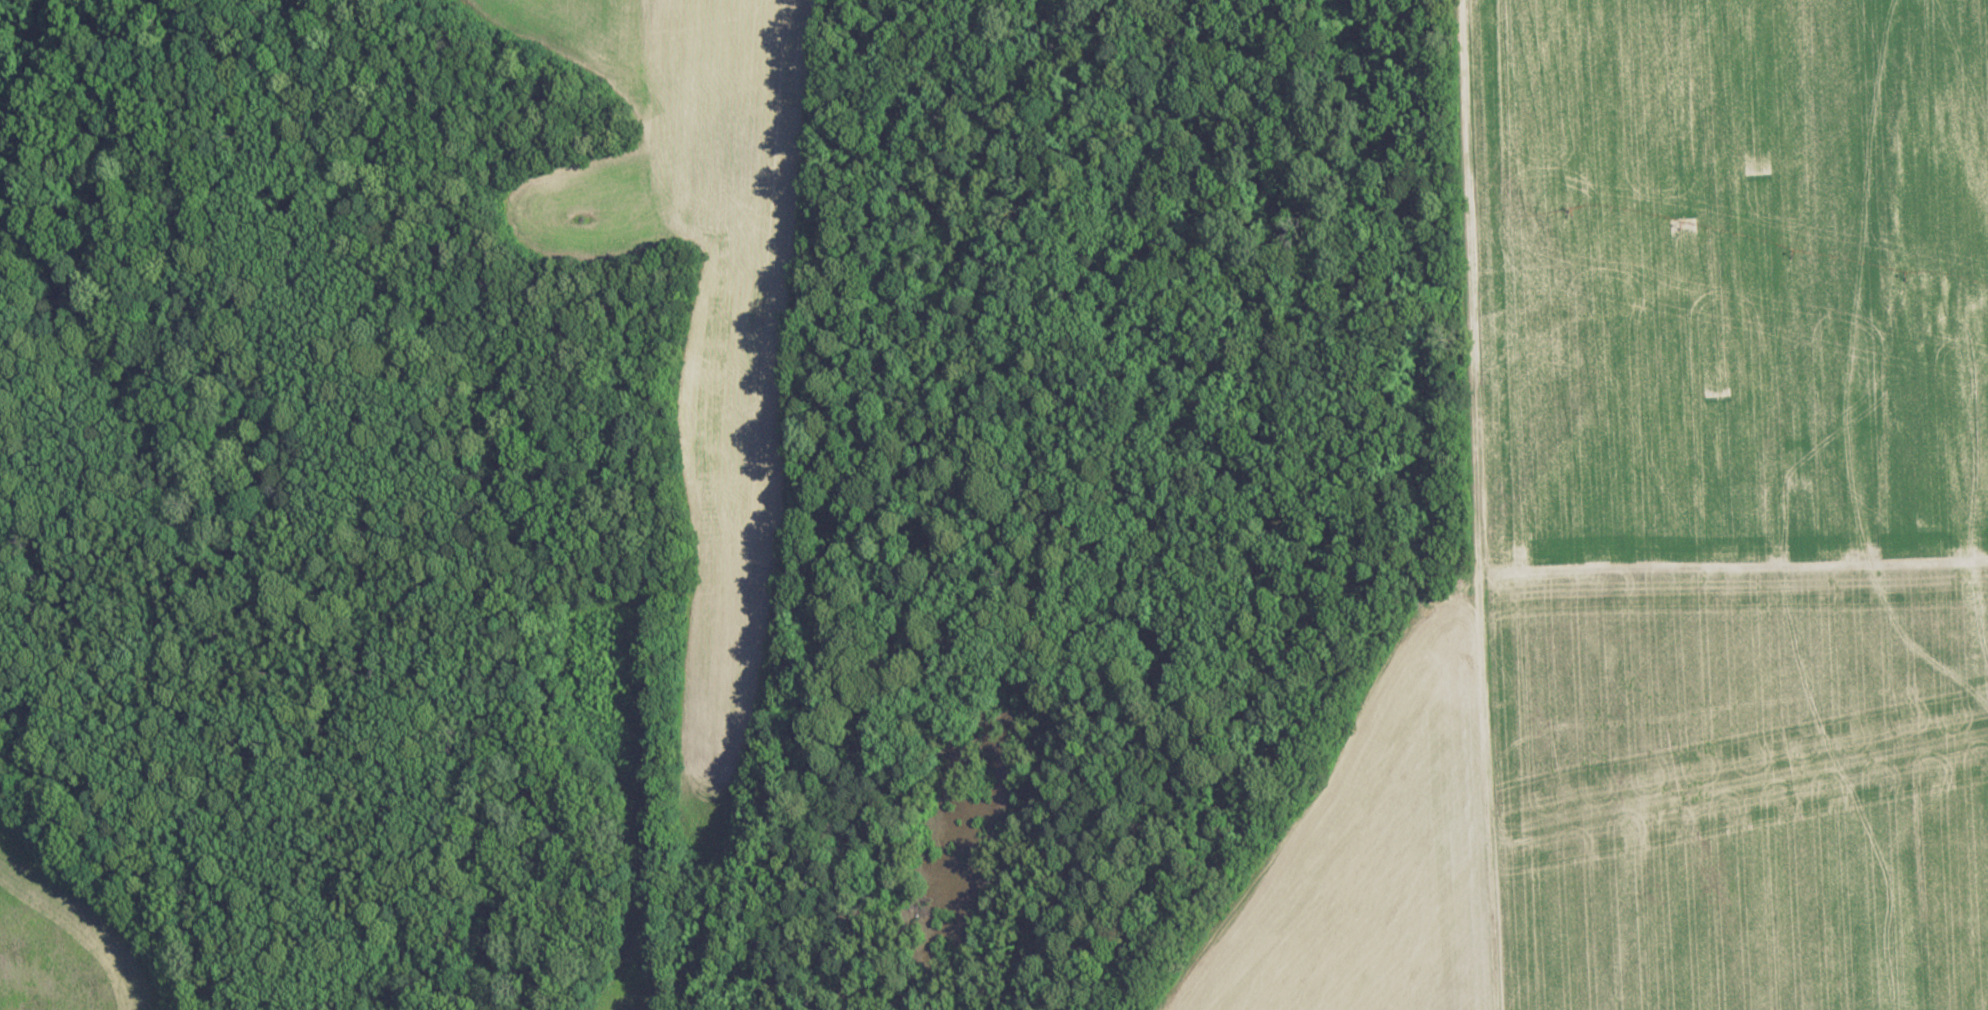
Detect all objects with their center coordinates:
road: (1473, 505)

